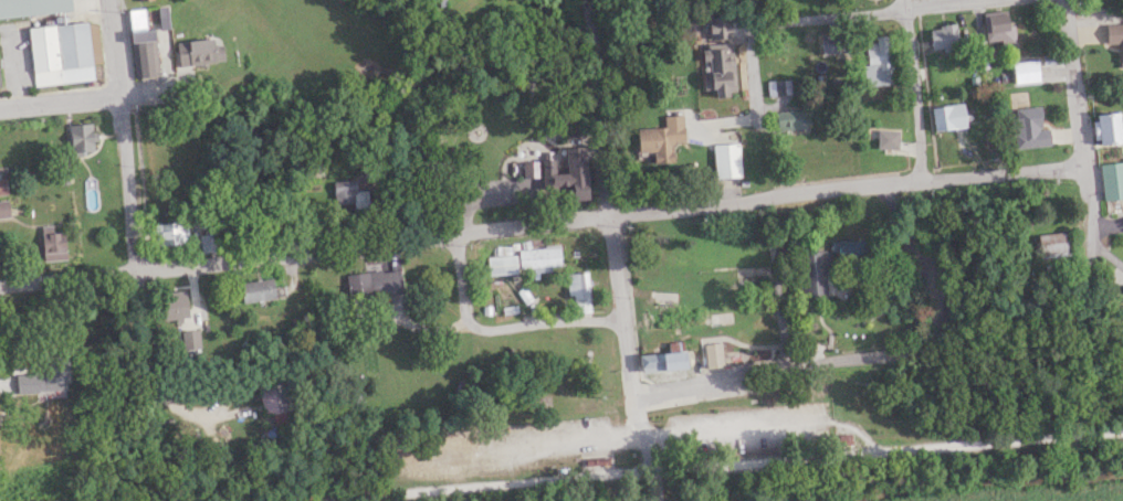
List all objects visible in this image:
building: (137, 0)
road: (860, 13)
building: (997, 28)
building: (942, 36)
building: (1115, 38)
building: (832, 44)
building: (140, 45)
road: (112, 49)
building: (62, 53)
building: (199, 53)
building: (878, 57)
building: (716, 68)
building: (1025, 72)
road: (752, 75)
building: (777, 88)
road: (914, 90)
road: (1077, 98)
road: (60, 104)
road: (594, 107)
building: (947, 117)
building: (788, 121)
building: (1029, 128)
building: (1109, 129)
building: (80, 138)
building: (658, 139)
building: (886, 139)
building: (724, 160)
building: (313, 169)
building: (565, 173)
building: (1111, 181)
road: (126, 183)
building: (2, 188)
road: (846, 188)
building: (343, 192)
building: (3, 210)
building: (170, 233)
road: (1092, 238)
building: (207, 242)
building: (1051, 245)
building: (52, 246)
road: (303, 253)
building: (540, 257)
road: (920, 259)
building: (501, 265)
building: (811, 279)
building: (372, 284)
building: (255, 290)
building: (578, 291)
building: (174, 306)
road: (781, 306)
road: (496, 328)
building: (189, 340)
road: (626, 343)
building: (713, 354)
building: (672, 360)
road: (784, 365)
road: (147, 376)
building: (272, 395)
road: (1105, 433)
parking lot: (641, 438)
road: (868, 452)
road: (500, 487)
road: (651, 487)

